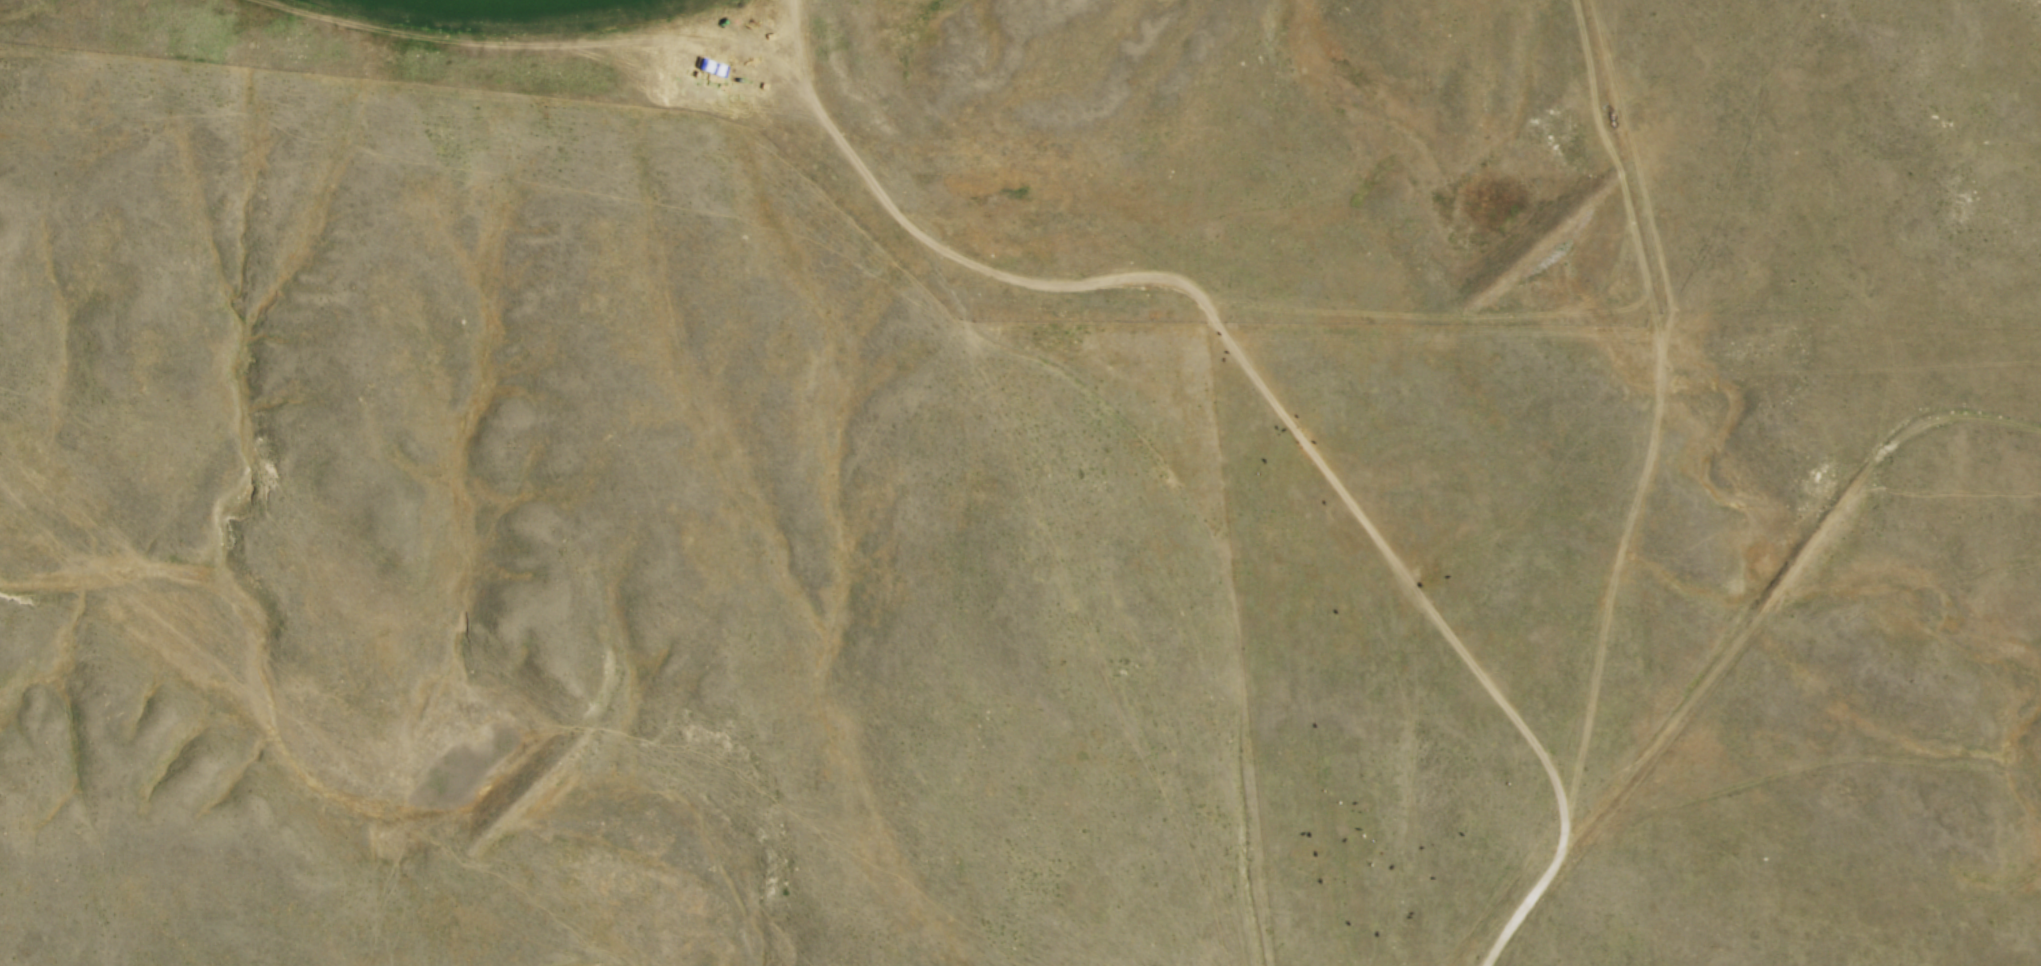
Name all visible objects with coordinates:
crop: (506, 9)
dam: (529, 794)

